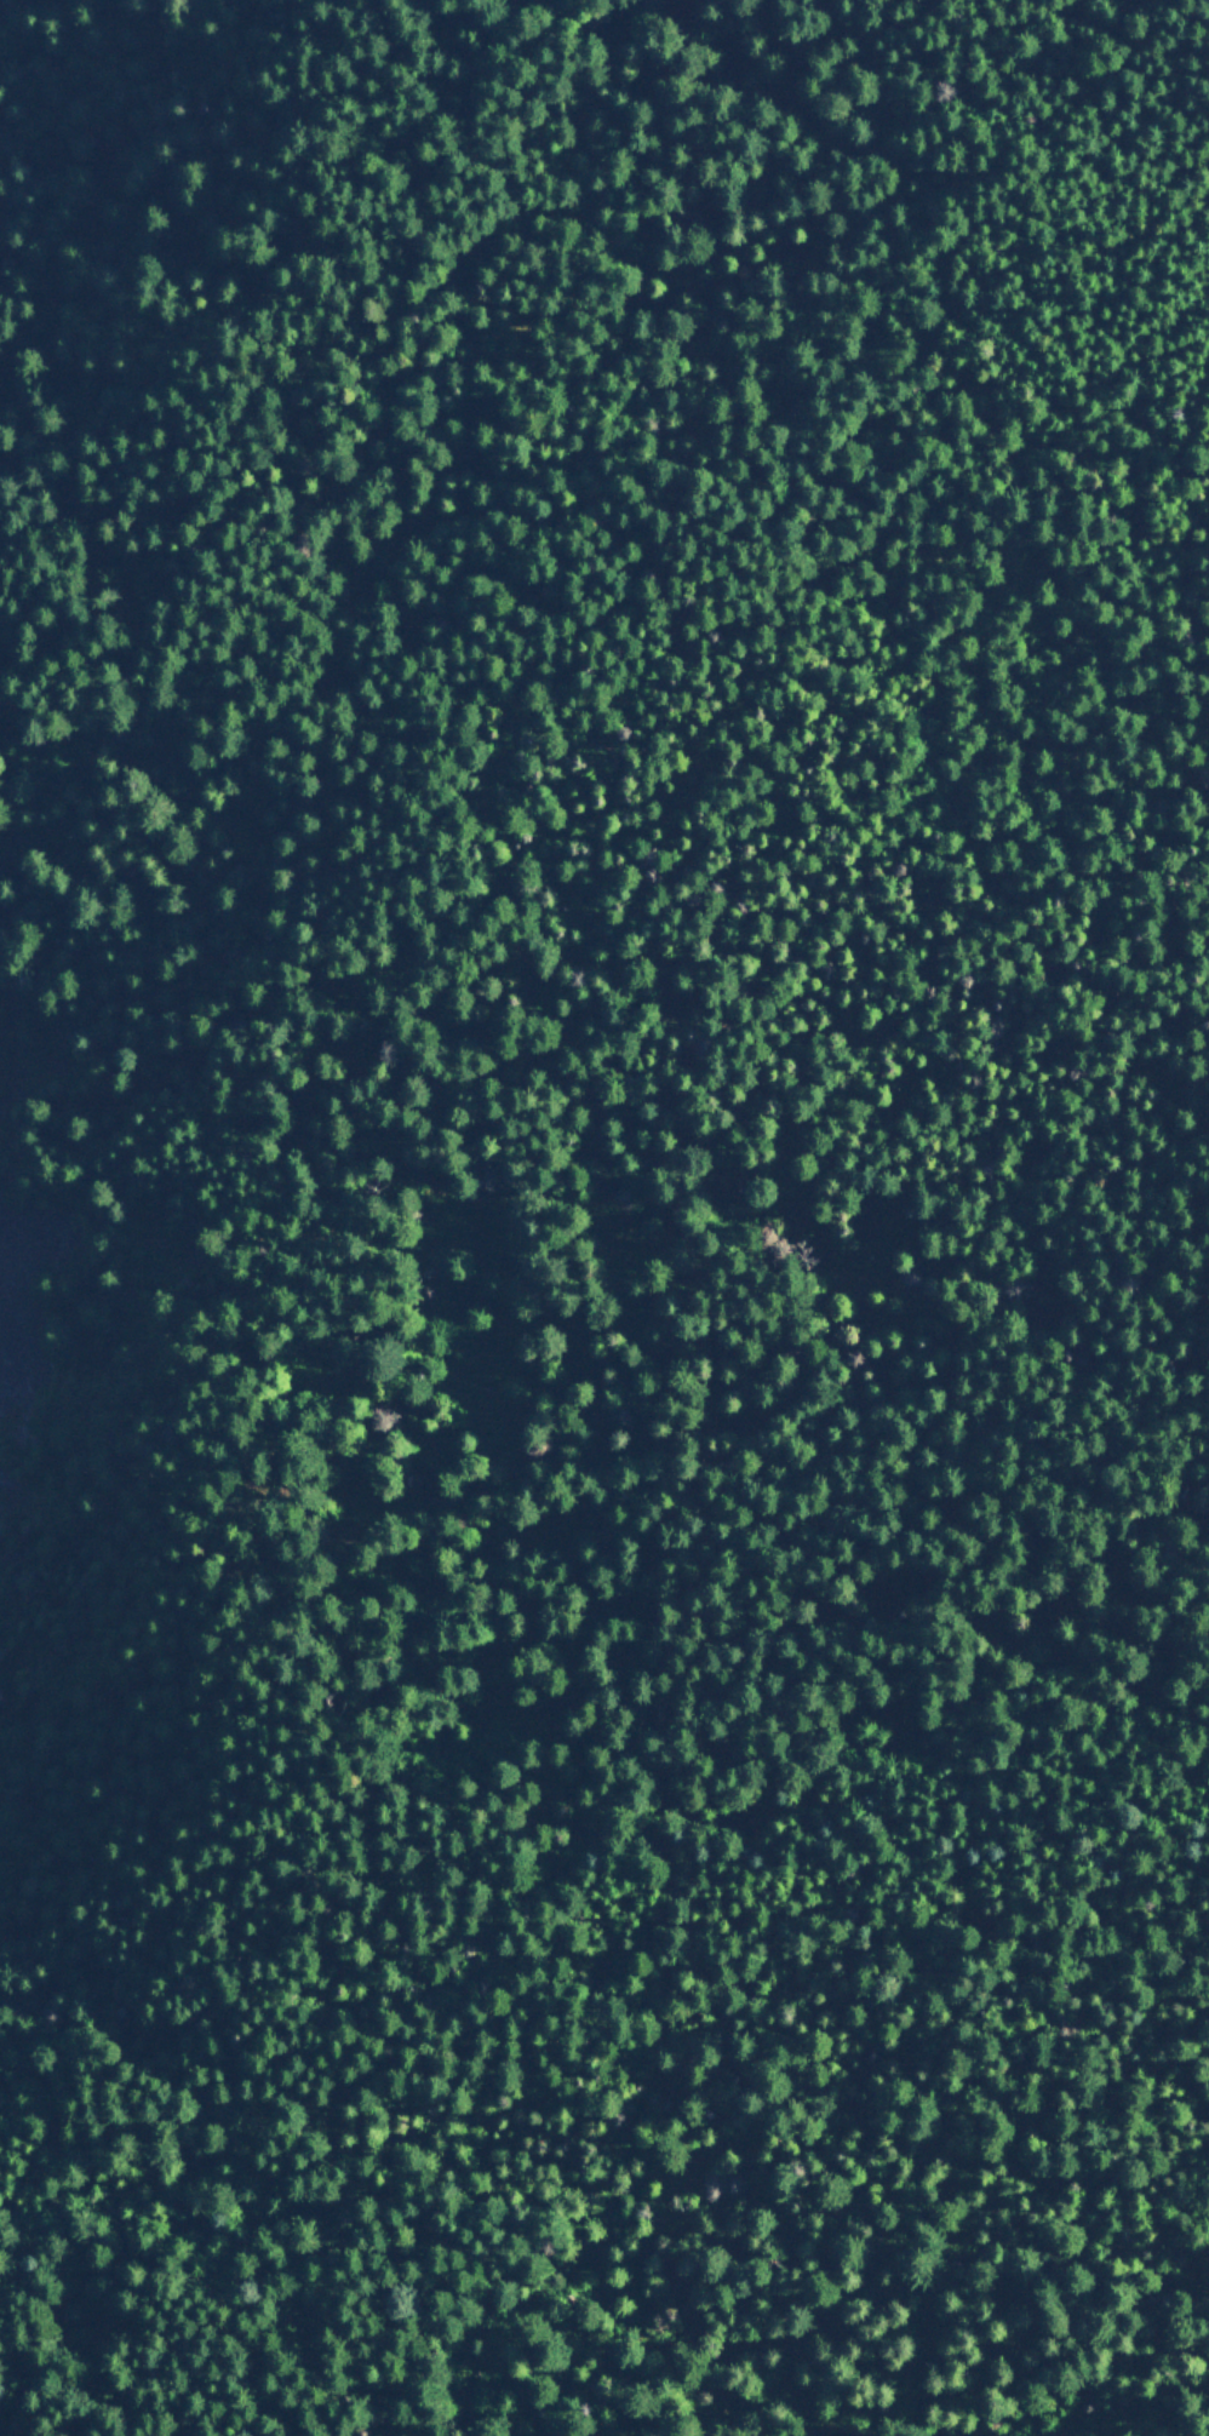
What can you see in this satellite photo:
road: (548, 1965)

